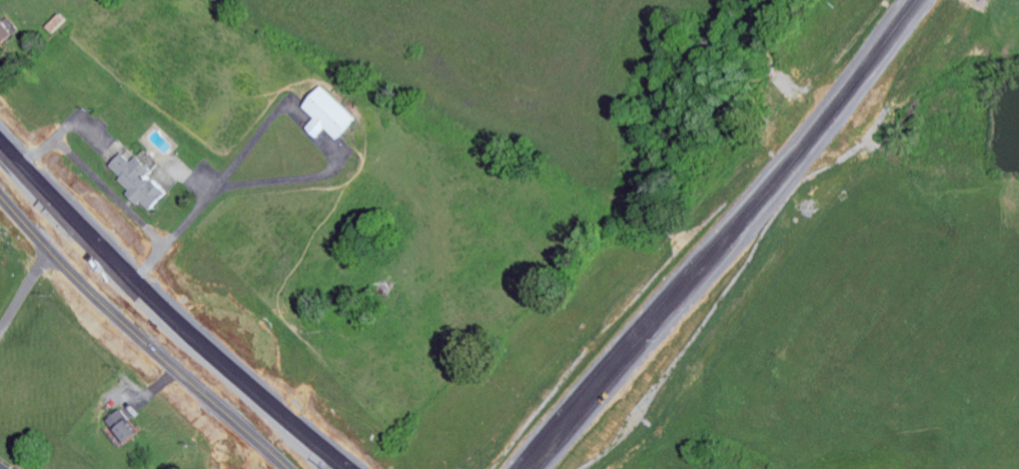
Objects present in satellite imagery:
building: (4, 37)
building: (328, 119)
building: (137, 184)
road: (728, 239)
road: (30, 278)
road: (138, 315)
building: (123, 431)
building: (2, 467)

